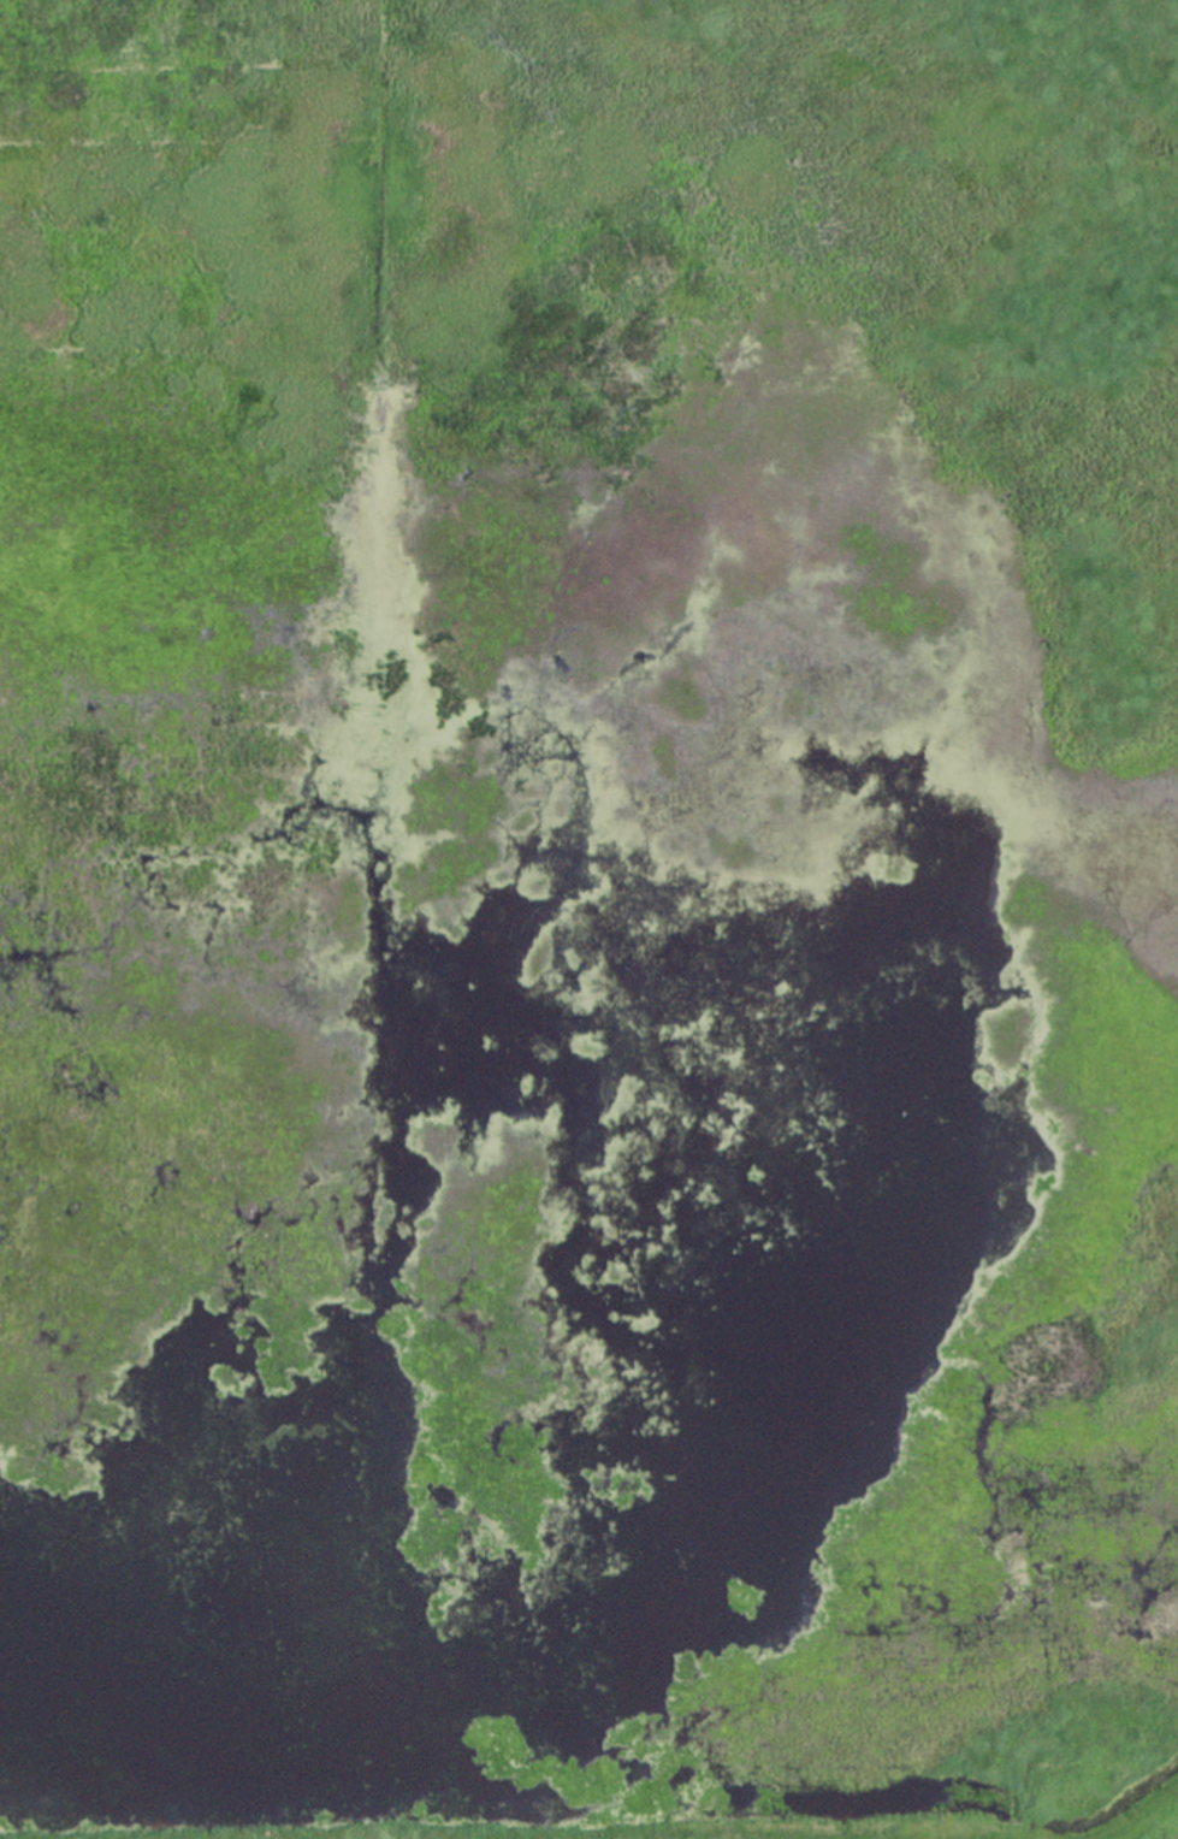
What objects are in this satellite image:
building: (362, 160)
building: (379, 167)

